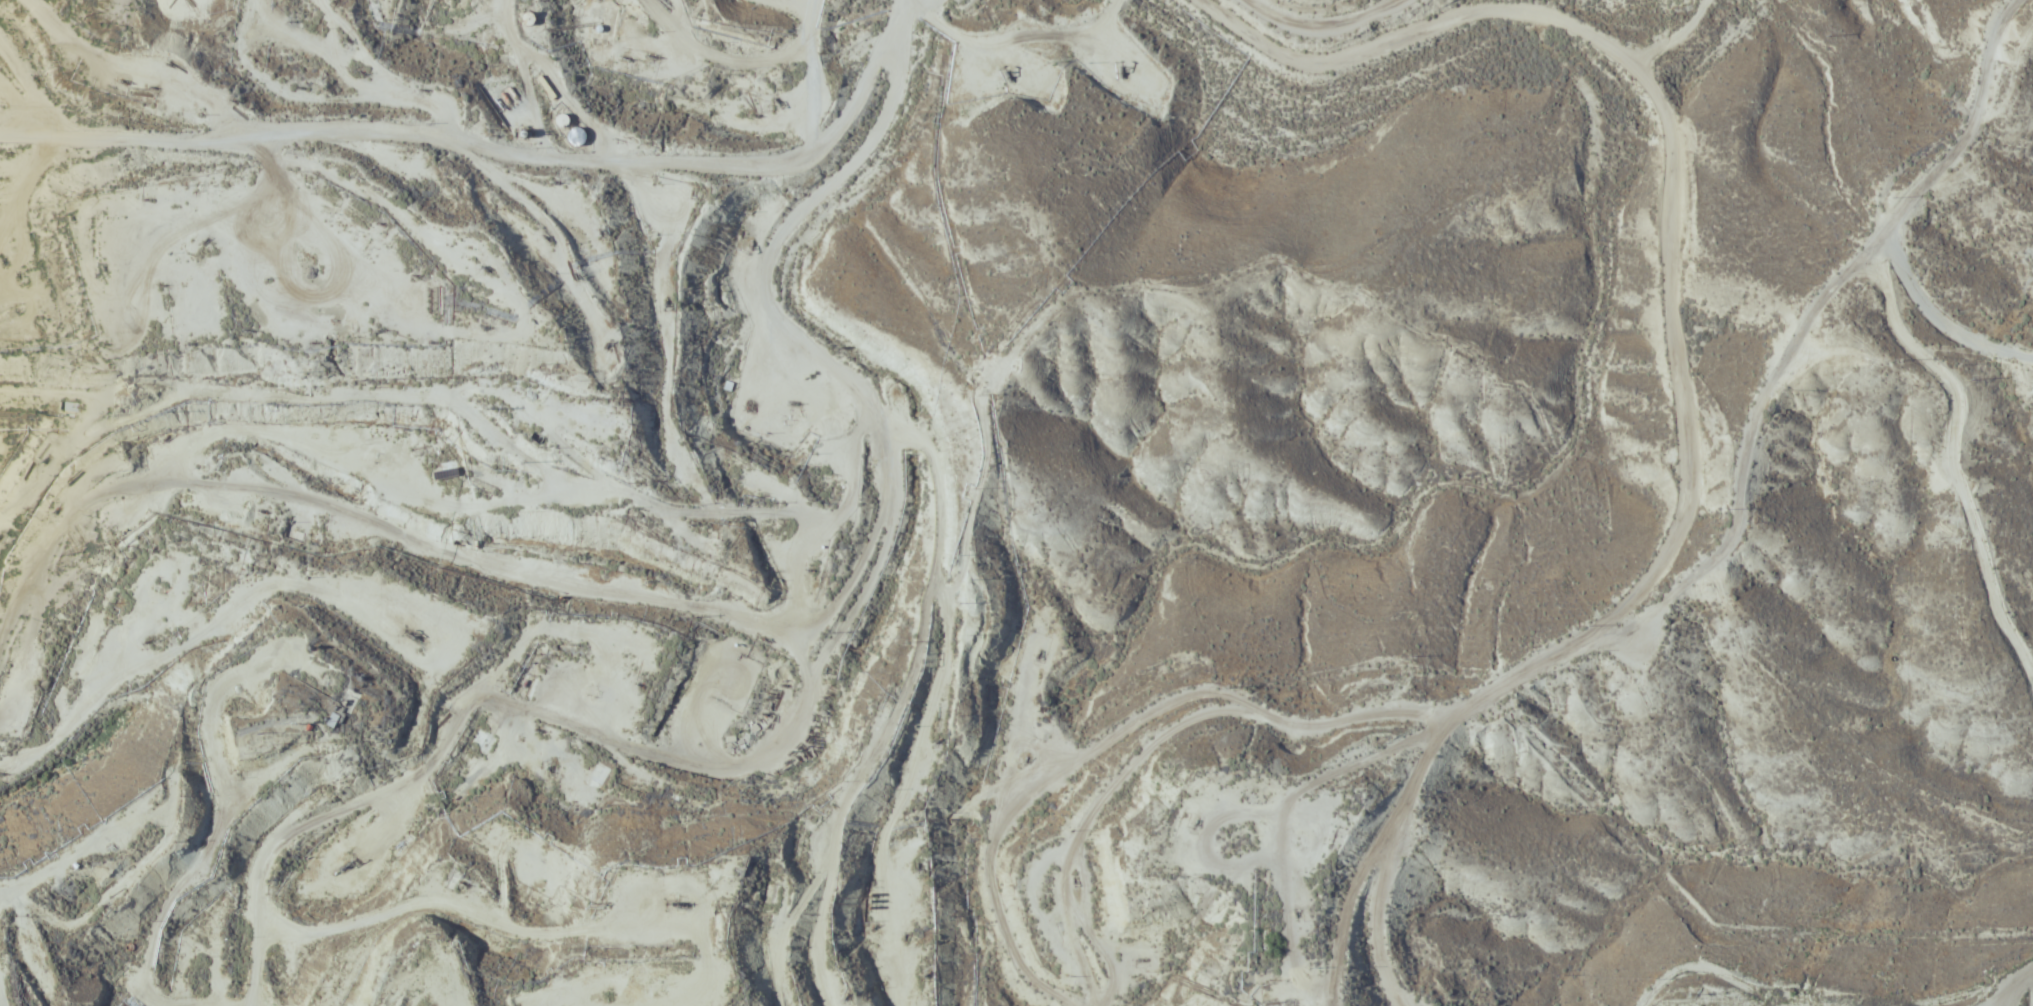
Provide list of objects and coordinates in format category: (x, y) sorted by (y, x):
building: (597, 9)
road: (673, 24)
road: (1330, 25)
road: (141, 77)
building: (560, 120)
building: (572, 137)
road: (501, 157)
road: (805, 339)
road: (477, 568)
road: (1623, 631)
road: (436, 688)
road: (943, 691)
building: (477, 742)
building: (773, 762)
building: (595, 775)
road: (72, 864)
road: (453, 920)
road: (1833, 996)
road: (215, 1004)

